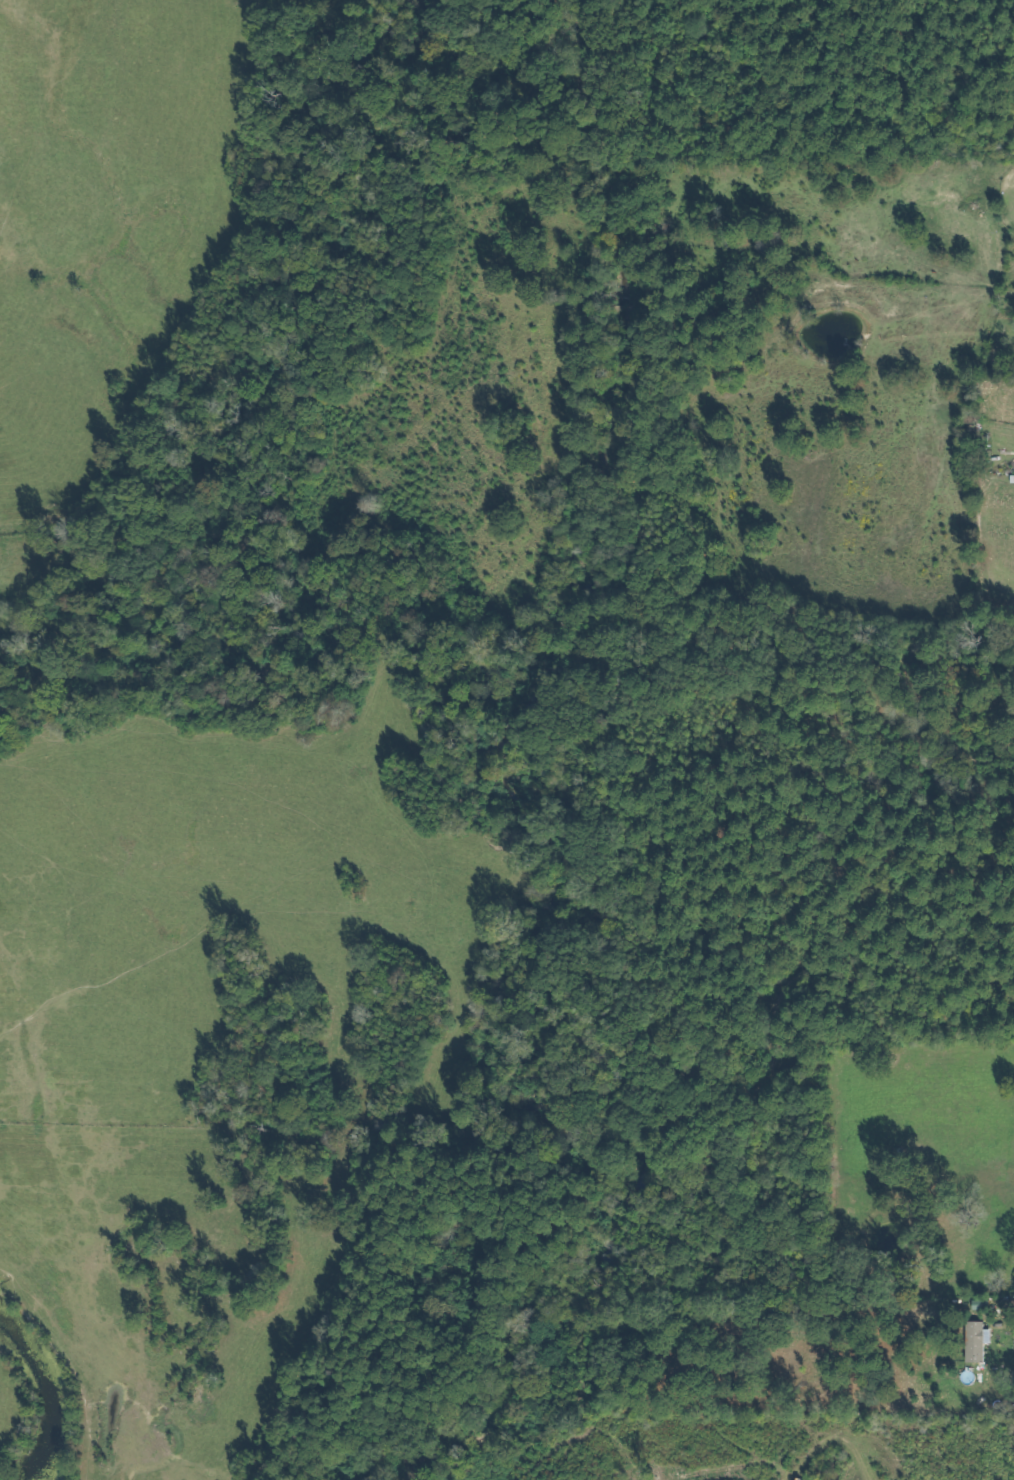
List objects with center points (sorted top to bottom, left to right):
building: (983, 1305)
building: (978, 1341)

